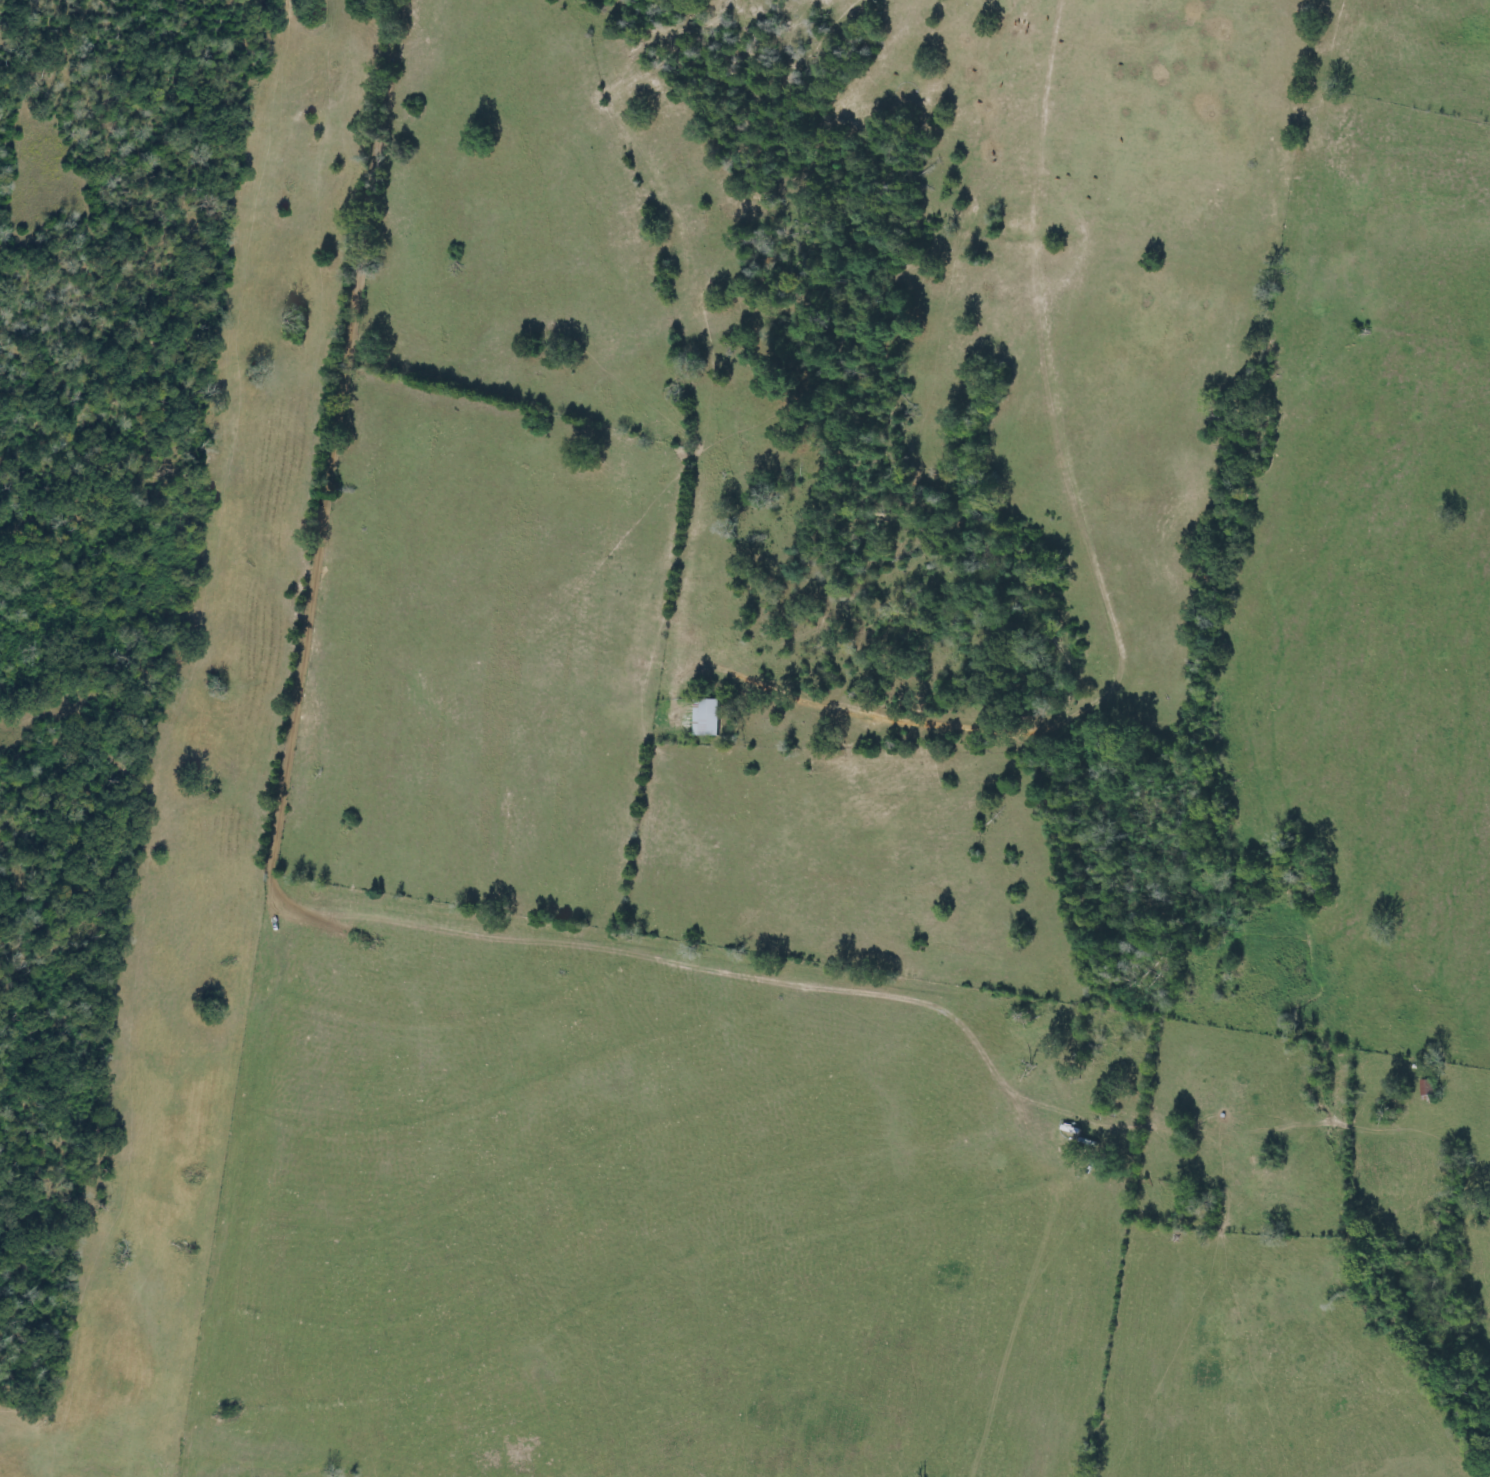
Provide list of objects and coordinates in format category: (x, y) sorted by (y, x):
building: (710, 717)

